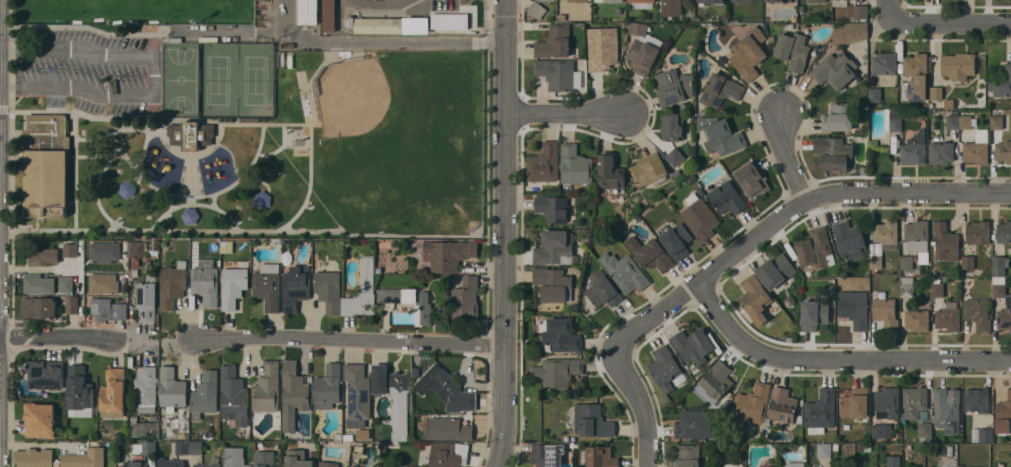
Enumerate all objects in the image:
building: (549, 0)
building: (576, 0)
building: (610, 0)
building: (778, 0)
building: (817, 0)
building: (671, 1)
building: (711, 1)
building: (741, 1)
building: (839, 2)
building: (640, 3)
building: (536, 9)
road: (891, 10)
building: (309, 12)
building: (860, 12)
building: (329, 15)
building: (445, 21)
road: (951, 21)
building: (387, 24)
road: (48, 27)
building: (638, 27)
road: (227, 30)
building: (850, 32)
building: (554, 41)
road: (375, 42)
building: (602, 50)
building: (793, 50)
building: (748, 53)
building: (642, 55)
building: (885, 63)
building: (958, 65)
building: (916, 66)
building: (835, 70)
building: (556, 72)
road: (150, 76)
park: (256, 79)
park: (180, 80)
park: (218, 80)
building: (1001, 82)
building: (674, 86)
building: (720, 90)
building: (936, 92)
building: (875, 94)
building: (905, 95)
road: (569, 111)
park: (387, 115)
building: (838, 117)
building: (893, 119)
building: (953, 121)
building: (966, 121)
building: (996, 122)
road: (249, 125)
building: (672, 127)
park: (235, 131)
road: (108, 133)
building: (191, 134)
building: (720, 135)
road: (262, 139)
building: (977, 147)
road: (174, 149)
building: (914, 149)
building: (1003, 150)
road: (146, 152)
building: (834, 152)
building: (941, 152)
road: (97, 156)
building: (675, 156)
road: (794, 161)
road: (108, 163)
building: (545, 164)
building: (46, 165)
building: (575, 165)
building: (648, 169)
building: (610, 171)
road: (192, 176)
building: (753, 179)
building: (127, 188)
road: (76, 194)
building: (727, 197)
road: (15, 199)
road: (214, 200)
road: (192, 201)
road: (196, 205)
building: (553, 207)
building: (189, 215)
building: (699, 217)
road: (791, 220)
building: (886, 231)
building: (1004, 231)
building: (978, 232)
road: (505, 233)
road: (409, 235)
building: (918, 238)
building: (677, 240)
building: (850, 240)
building: (945, 242)
building: (554, 248)
building: (815, 248)
building: (70, 249)
building: (142, 250)
building: (104, 251)
building: (650, 253)
building: (449, 254)
building: (43, 255)
building: (906, 261)
building: (968, 261)
building: (875, 262)
building: (998, 265)
road: (39, 268)
building: (776, 270)
building: (625, 272)
building: (206, 281)
building: (38, 283)
building: (66, 283)
building: (104, 283)
building: (173, 284)
building: (234, 284)
building: (554, 284)
building: (268, 286)
building: (296, 286)
building: (907, 286)
building: (998, 286)
building: (937, 288)
building: (328, 289)
building: (602, 289)
building: (362, 291)
building: (754, 295)
building: (148, 299)
building: (466, 299)
building: (72, 304)
building: (38, 307)
building: (855, 308)
building: (108, 309)
building: (885, 312)
building: (423, 313)
building: (978, 313)
building: (814, 314)
building: (1005, 314)
building: (949, 316)
building: (917, 317)
building: (561, 333)
road: (65, 339)
road: (354, 339)
building: (695, 345)
road: (836, 360)
building: (665, 367)
building: (557, 371)
building: (46, 374)
building: (714, 382)
building: (328, 386)
building: (79, 388)
building: (267, 388)
building: (447, 388)
building: (146, 389)
building: (114, 390)
building: (172, 390)
building: (205, 394)
building: (293, 394)
building: (357, 394)
building: (234, 395)
building: (393, 399)
building: (914, 400)
building: (976, 400)
building: (855, 401)
building: (887, 402)
building: (753, 403)
building: (783, 404)
building: (946, 404)
road: (643, 406)
building: (821, 409)
building: (1003, 414)
building: (40, 419)
building: (1010, 419)
building: (591, 420)
building: (694, 423)
building: (144, 425)
building: (448, 428)
building: (882, 430)
building: (930, 431)
building: (985, 434)
building: (144, 447)
building: (189, 447)
building: (824, 449)
building: (447, 453)
building: (548, 454)
building: (687, 455)
building: (600, 456)
building: (34, 457)
building: (234, 457)
building: (85, 458)
building: (264, 458)
building: (295, 458)
building: (893, 461)
building: (169, 462)
building: (136, 463)
building: (210, 463)
building: (328, 463)
building: (795, 464)
building: (733, 465)
building: (355, 466)

